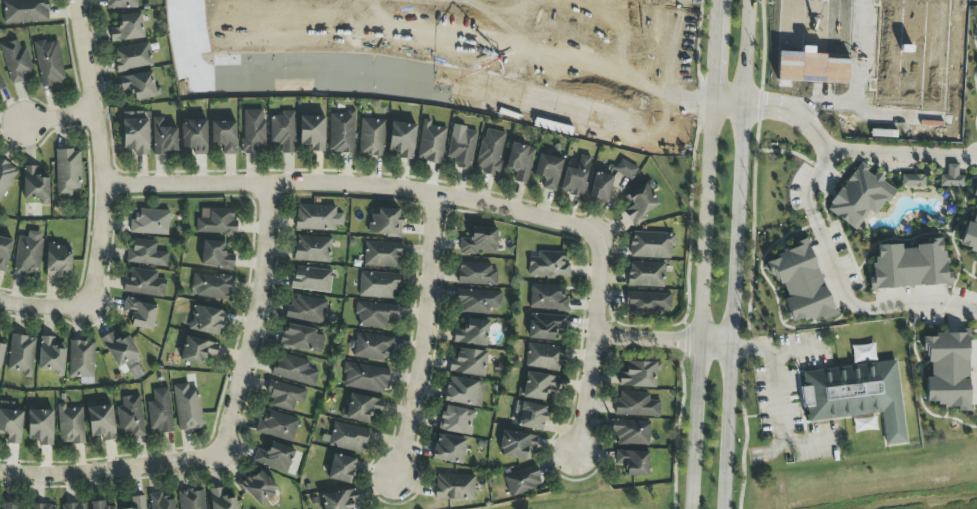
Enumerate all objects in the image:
building: (121, 4)
building: (25, 11)
building: (128, 28)
road: (712, 50)
building: (132, 57)
building: (16, 61)
building: (49, 63)
building: (1, 84)
building: (139, 85)
road: (728, 102)
road: (799, 109)
road: (798, 115)
road: (55, 117)
road: (792, 119)
building: (253, 131)
building: (283, 132)
building: (136, 133)
building: (312, 133)
building: (342, 133)
building: (224, 136)
building: (194, 137)
building: (371, 137)
building: (163, 138)
building: (402, 140)
building: (431, 143)
building: (462, 147)
road: (99, 148)
building: (490, 152)
road: (903, 155)
building: (520, 162)
building: (548, 171)
building: (67, 172)
building: (6, 177)
building: (576, 177)
building: (952, 177)
building: (610, 180)
building: (912, 181)
building: (34, 184)
road: (348, 185)
building: (975, 189)
building: (860, 196)
building: (640, 204)
building: (317, 217)
building: (150, 222)
building: (385, 222)
building: (217, 223)
building: (970, 234)
building: (479, 242)
building: (651, 245)
building: (312, 249)
building: (4, 252)
building: (28, 253)
building: (146, 254)
building: (382, 254)
road: (738, 254)
building: (216, 255)
building: (58, 261)
building: (548, 265)
building: (910, 266)
building: (476, 274)
building: (646, 274)
building: (312, 279)
building: (144, 283)
building: (800, 283)
building: (378, 285)
building: (211, 286)
road: (841, 287)
building: (547, 298)
building: (477, 301)
building: (648, 303)
road: (698, 304)
road: (46, 308)
building: (306, 309)
building: (140, 314)
building: (375, 314)
building: (207, 320)
road: (250, 324)
building: (545, 326)
building: (472, 333)
road: (418, 334)
building: (301, 338)
road: (663, 339)
road: (591, 344)
building: (372, 347)
building: (119, 349)
building: (197, 350)
road: (774, 352)
building: (1, 355)
building: (21, 355)
building: (51, 356)
building: (544, 357)
building: (81, 359)
building: (468, 363)
building: (294, 370)
building: (947, 370)
building: (638, 375)
building: (365, 378)
building: (538, 386)
building: (464, 392)
building: (284, 396)
building: (857, 396)
building: (636, 405)
building: (187, 408)
building: (361, 408)
building: (160, 411)
building: (529, 416)
building: (130, 417)
building: (456, 420)
road: (780, 420)
building: (101, 422)
building: (11, 423)
building: (70, 425)
building: (277, 425)
building: (41, 427)
building: (631, 432)
building: (348, 437)
building: (517, 445)
building: (449, 449)
building: (275, 457)
building: (633, 462)
building: (341, 469)
road: (103, 471)
building: (522, 481)
building: (258, 487)
building: (454, 487)
building: (191, 499)
building: (220, 500)
building: (338, 500)
building: (137, 502)
building: (161, 502)
building: (99, 505)
building: (44, 506)
building: (74, 506)
building: (13, 507)

